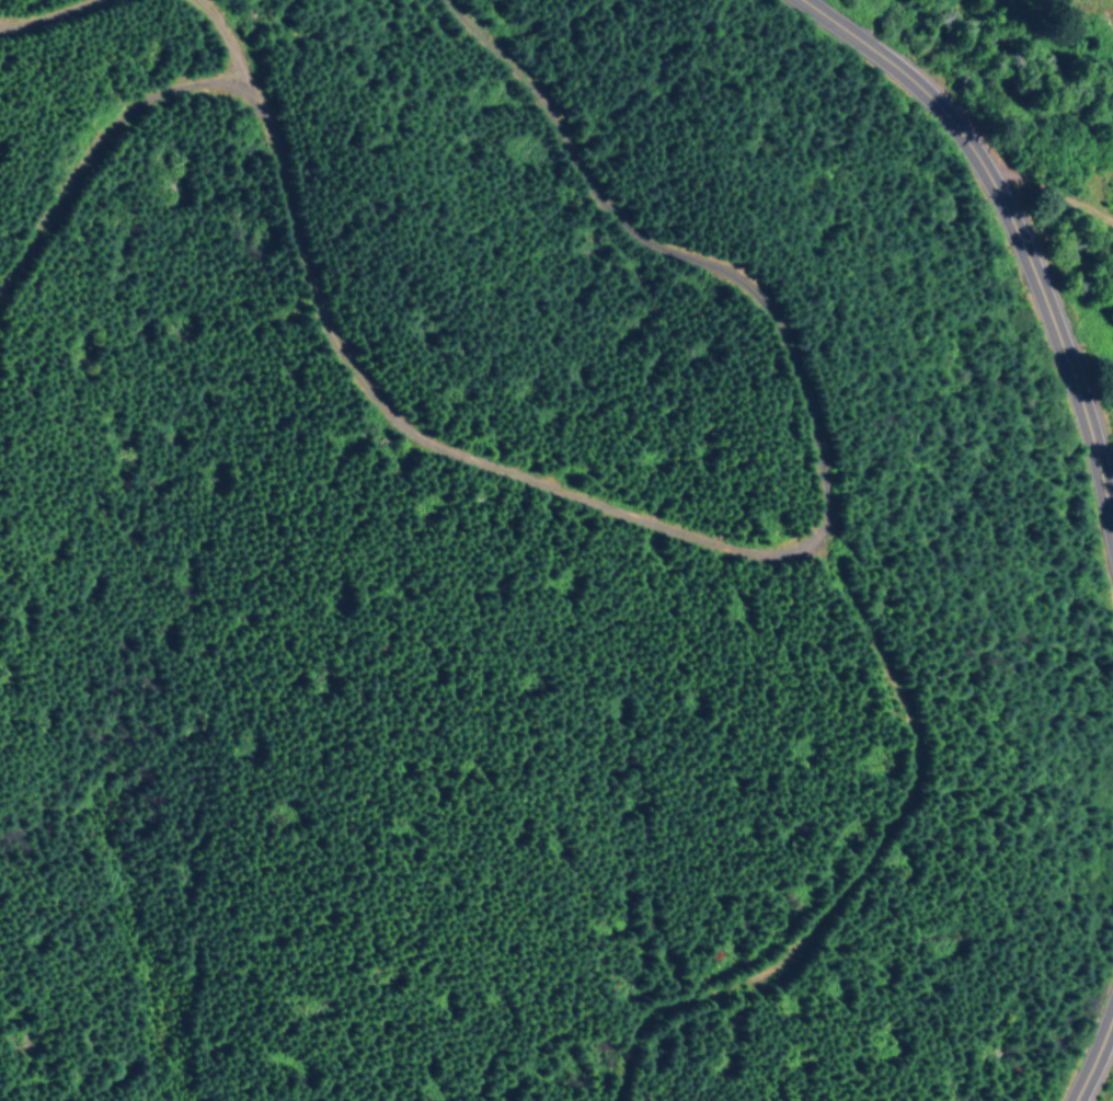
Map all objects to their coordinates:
road: (1055, 190)
road: (1019, 244)
road: (1092, 1042)

